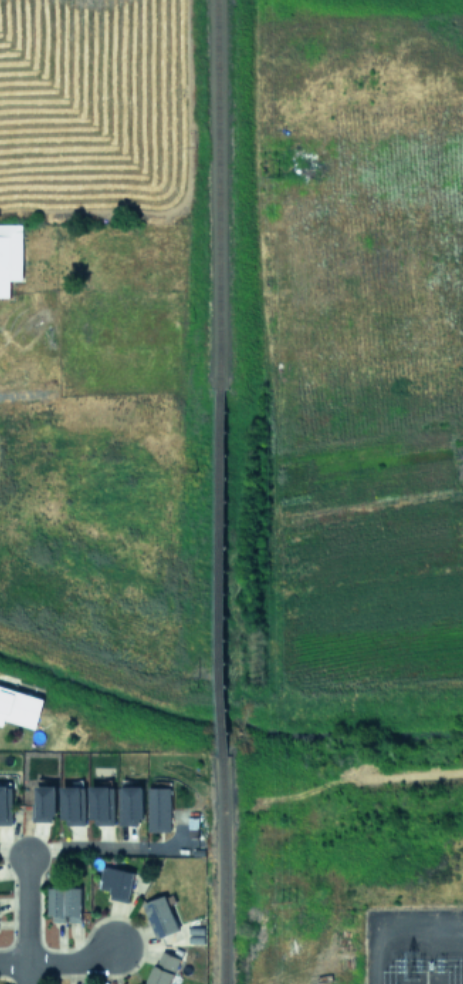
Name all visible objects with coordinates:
building: (9, 255)
railway: (219, 491)
building: (19, 707)
building: (44, 803)
building: (129, 804)
building: (71, 805)
building: (101, 805)
building: (5, 806)
building: (158, 809)
road: (115, 848)
road: (12, 852)
building: (116, 882)
building: (64, 904)
road: (25, 910)
building: (160, 916)
power substation: (412, 949)
road: (12, 963)
road: (70, 963)
building: (163, 968)
road: (24, 974)

